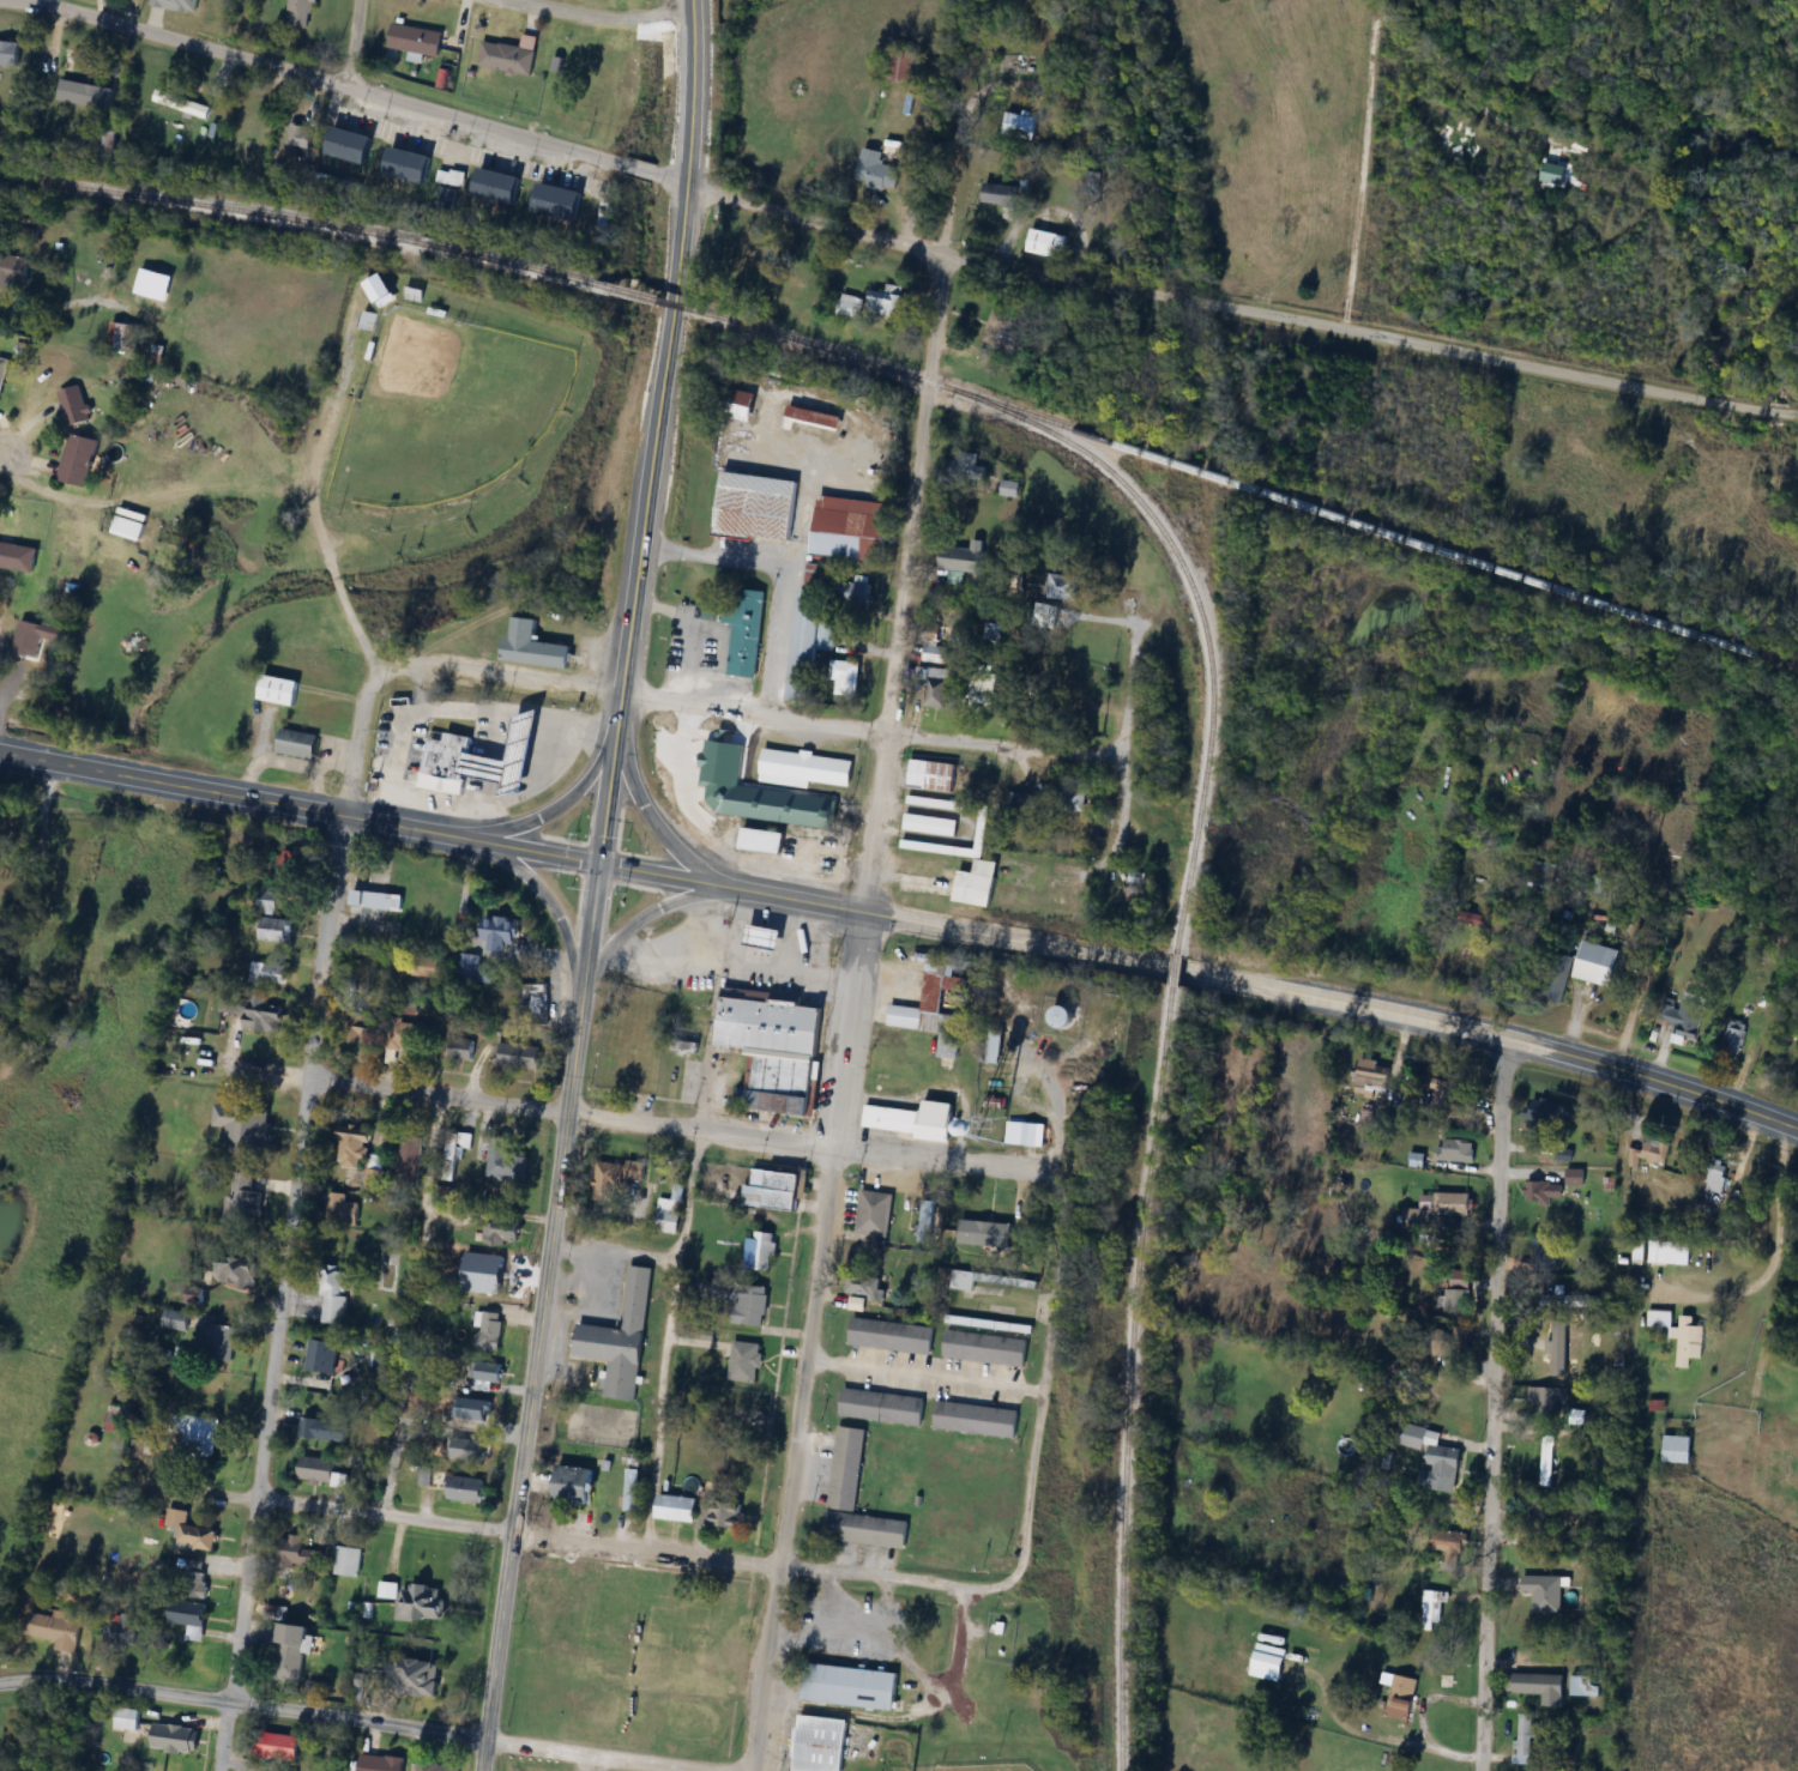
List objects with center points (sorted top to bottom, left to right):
road: (42, 4)
building: (177, 5)
building: (302, 14)
road: (598, 18)
building: (416, 40)
road: (354, 44)
building: (10, 53)
building: (509, 56)
building: (90, 66)
building: (905, 66)
building: (182, 103)
road: (470, 125)
building: (1020, 126)
building: (108, 139)
building: (297, 139)
building: (350, 145)
building: (409, 164)
building: (879, 175)
road: (951, 180)
building: (497, 186)
building: (1000, 194)
building: (559, 201)
railway: (327, 226)
building: (1048, 243)
building: (13, 274)
building: (789, 282)
building: (887, 301)
railway: (666, 302)
building: (850, 304)
building: (998, 326)
building: (119, 334)
road: (1369, 334)
railway: (816, 347)
railway: (1218, 370)
building: (2, 374)
building: (77, 413)
road: (5, 452)
building: (79, 459)
building: (966, 465)
building: (1010, 488)
road: (308, 495)
building: (758, 507)
railway: (1156, 524)
building: (128, 527)
building: (850, 528)
railway: (1375, 530)
building: (17, 557)
road: (640, 557)
building: (963, 562)
road: (780, 574)
building: (1067, 587)
building: (855, 593)
building: (743, 630)
building: (37, 636)
building: (809, 643)
building: (536, 646)
building: (939, 654)
building: (845, 677)
building: (279, 689)
building: (936, 691)
building: (982, 691)
building: (1087, 701)
road: (891, 702)
road: (749, 713)
road: (265, 732)
road: (1122, 742)
building: (298, 743)
building: (444, 752)
building: (506, 752)
gas station: (506, 752)
road: (333, 754)
road: (289, 763)
building: (804, 768)
building: (933, 775)
building: (436, 781)
building: (1069, 799)
building: (1015, 803)
road: (553, 808)
building: (712, 814)
building: (930, 824)
building: (759, 827)
road: (41, 828)
road: (434, 830)
road: (659, 830)
railway: (1189, 858)
traffic signals: (598, 860)
building: (982, 860)
building: (285, 866)
road: (333, 871)
road: (541, 891)
building: (378, 900)
road: (651, 913)
building: (272, 920)
building: (501, 932)
building: (759, 933)
gas station: (759, 933)
road: (1016, 942)
building: (1599, 963)
building: (427, 967)
building: (471, 968)
building: (269, 972)
railway: (1176, 972)
road: (1175, 973)
building: (1558, 978)
building: (531, 1005)
building: (263, 1014)
building: (1061, 1015)
building: (1687, 1019)
road: (1573, 1020)
building: (917, 1027)
building: (360, 1029)
road: (1484, 1033)
building: (1733, 1038)
building: (408, 1039)
building: (768, 1044)
building: (991, 1046)
building: (461, 1050)
building: (519, 1056)
building: (1374, 1075)
building: (893, 1082)
building: (1450, 1092)
building: (1544, 1112)
building: (910, 1117)
building: (245, 1123)
road: (1057, 1126)
road: (1787, 1126)
road: (680, 1129)
building: (1037, 1135)
building: (354, 1148)
building: (1456, 1150)
building: (1563, 1154)
building: (1649, 1154)
building: (411, 1160)
building: (505, 1163)
building: (1715, 1175)
building: (1575, 1178)
building: (615, 1179)
building: (773, 1190)
building: (1541, 1192)
building: (243, 1197)
building: (1456, 1203)
building: (342, 1209)
building: (670, 1214)
building: (874, 1214)
building: (925, 1221)
building: (1419, 1223)
building: (502, 1232)
building: (759, 1251)
building: (1658, 1252)
building: (1545, 1255)
road: (1775, 1261)
building: (236, 1273)
building: (963, 1280)
building: (865, 1283)
building: (334, 1295)
building: (1563, 1301)
building: (746, 1305)
building: (489, 1331)
building: (1678, 1335)
building: (892, 1337)
building: (621, 1338)
road: (668, 1341)
building: (218, 1342)
building: (985, 1348)
building: (1558, 1354)
building: (324, 1356)
building: (382, 1362)
building: (744, 1362)
building: (489, 1373)
road: (924, 1373)
railway: (1129, 1378)
building: (1547, 1403)
road: (1039, 1404)
road: (1490, 1404)
building: (882, 1407)
building: (479, 1410)
building: (119, 1420)
building: (976, 1420)
road: (264, 1424)
building: (324, 1431)
building: (199, 1439)
road: (524, 1441)
building: (1677, 1450)
road: (794, 1459)
building: (1435, 1459)
building: (1547, 1459)
building: (324, 1473)
building: (575, 1486)
building: (465, 1489)
building: (630, 1489)
building: (856, 1499)
building: (677, 1509)
building: (722, 1513)
building: (191, 1533)
road: (607, 1545)
building: (1452, 1549)
building: (298, 1553)
building: (348, 1563)
building: (195, 1578)
building: (387, 1590)
building: (1544, 1594)
building: (421, 1601)
building: (1434, 1607)
building: (191, 1616)
building: (54, 1630)
building: (122, 1631)
road: (952, 1642)
building: (291, 1650)
building: (416, 1676)
building: (850, 1686)
building: (1549, 1687)
building: (1401, 1702)
road: (1423, 1717)
road: (356, 1719)
road: (1345, 1724)
building: (176, 1737)
building: (1524, 1739)
building: (821, 1743)
building: (280, 1746)
building: (332, 1751)
building: (380, 1763)
building: (434, 1766)

